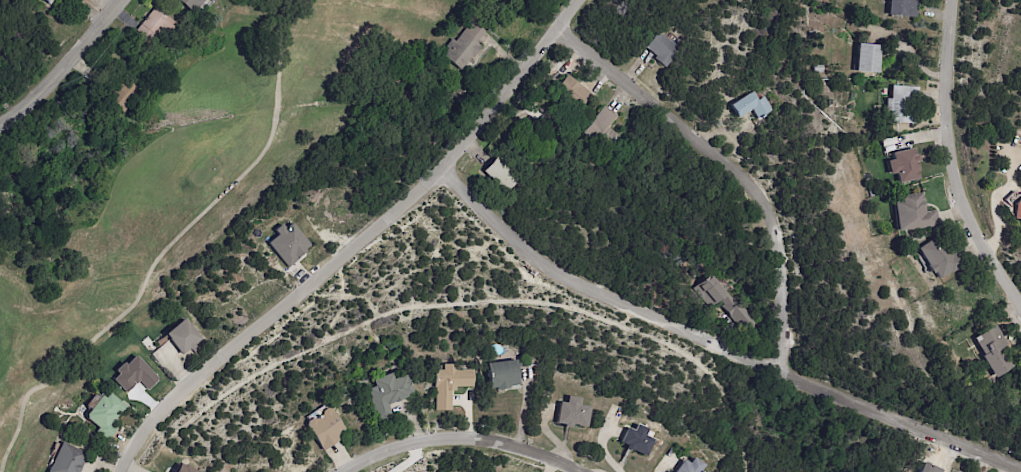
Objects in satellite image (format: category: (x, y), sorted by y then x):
building: (65, 1)
building: (209, 1)
building: (46, 3)
building: (186, 6)
building: (902, 8)
building: (151, 28)
building: (464, 45)
building: (661, 47)
building: (867, 56)
road: (50, 62)
building: (817, 68)
building: (572, 92)
building: (121, 94)
building: (900, 103)
building: (751, 104)
building: (602, 128)
building: (888, 141)
road: (723, 159)
road: (958, 159)
building: (904, 164)
building: (500, 174)
building: (871, 193)
building: (1017, 209)
building: (914, 212)
road: (338, 236)
building: (288, 243)
road: (168, 247)
building: (938, 257)
building: (896, 267)
building: (712, 291)
building: (740, 317)
building: (181, 336)
road: (705, 342)
building: (995, 350)
building: (500, 374)
building: (448, 385)
building: (386, 394)
building: (571, 413)
building: (102, 414)
building: (323, 429)
road: (457, 439)
building: (636, 440)
building: (65, 459)
building: (688, 466)
building: (183, 469)

